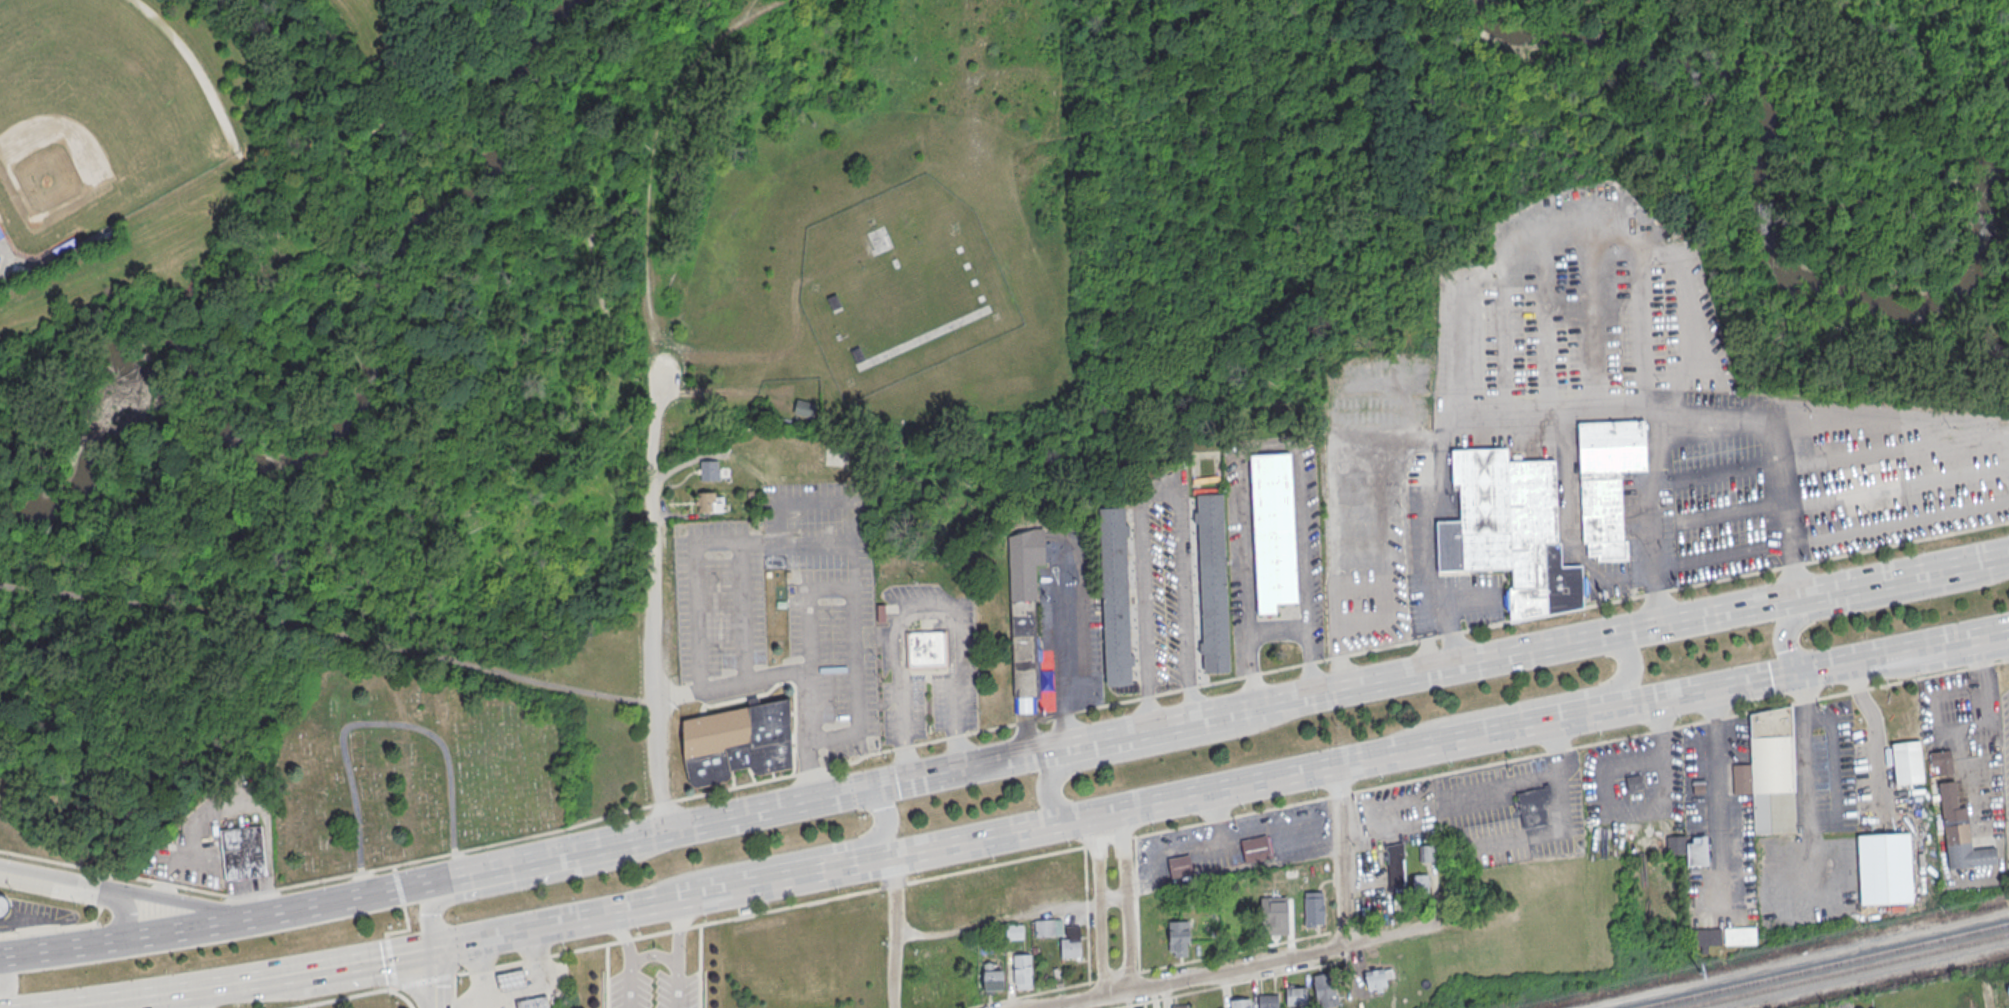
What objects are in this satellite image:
road: (751, 6)
road: (763, 6)
road: (580, 75)
park: (95, 115)
road: (1117, 124)
park: (1521, 180)
river: (1762, 204)
road: (1568, 220)
road: (1122, 236)
road: (1251, 252)
building: (835, 301)
building: (859, 355)
parking lot: (663, 376)
road: (699, 391)
parking lot: (1698, 396)
road: (648, 402)
park: (460, 409)
building: (805, 409)
road: (498, 413)
road: (1439, 442)
river: (322, 445)
road: (1270, 446)
road: (1776, 456)
building: (708, 471)
building: (1606, 482)
road: (1899, 485)
road: (1158, 493)
building: (707, 503)
road: (1652, 519)
road: (1901, 523)
building: (1273, 529)
building: (1508, 529)
road: (760, 542)
road: (1708, 558)
parking lot: (1163, 582)
building: (1212, 583)
road: (823, 587)
road: (1336, 594)
building: (1114, 600)
road: (1868, 604)
road: (921, 607)
parking lot: (785, 611)
building: (1024, 614)
road: (1277, 630)
road: (327, 631)
road: (1959, 642)
building: (927, 651)
road: (1862, 660)
road: (1308, 662)
road: (1250, 670)
traffic signals: (1815, 670)
road: (753, 679)
road: (1065, 680)
road: (1196, 687)
road: (1335, 691)
road: (674, 695)
road: (1548, 700)
road: (375, 724)
road: (1874, 726)
building: (738, 742)
road: (1571, 748)
road: (1138, 751)
park: (400, 757)
parking lot: (1970, 760)
parking lot: (2005, 761)
building: (1907, 762)
building: (1942, 762)
road: (1832, 770)
building: (1772, 771)
building: (1634, 781)
traffic signals: (851, 792)
road: (1807, 793)
road: (1717, 800)
building: (1532, 807)
road: (1124, 808)
road: (1636, 808)
parking lot: (1515, 811)
parking lot: (1718, 824)
building: (1959, 833)
parking lot: (1386, 843)
building: (1688, 847)
building: (1254, 850)
building: (243, 851)
building: (1427, 854)
road: (792, 855)
road: (1339, 855)
road: (55, 862)
building: (1395, 865)
building: (1180, 867)
building: (1884, 867)
road: (450, 876)
road: (524, 880)
road: (179, 886)
road: (398, 889)
building: (1420, 889)
road: (119, 896)
road: (1128, 899)
building: (3, 904)
road: (1098, 906)
building: (1313, 908)
road: (121, 915)
road: (1086, 915)
building: (1274, 916)
road: (1010, 918)
road: (715, 920)
building: (1048, 928)
road: (406, 930)
road: (892, 931)
building: (1013, 932)
building: (1739, 936)
building: (1705, 937)
road: (119, 938)
building: (1178, 938)
building: (1070, 942)
traffic signals: (434, 949)
road: (367, 959)
road: (390, 962)
road: (1246, 965)
railway: (1822, 965)
road: (699, 966)
road: (1148, 970)
railway: (1848, 970)
building: (1021, 971)
power tower: (1700, 974)
road: (606, 975)
road: (4, 977)
road: (434, 978)
building: (991, 979)
building: (1375, 979)
road: (222, 981)
building: (511, 981)
road: (1227, 985)
building: (1323, 989)
road: (453, 990)
road: (401, 996)
building: (2008, 996)
road: (196, 997)
building: (1295, 997)
road: (84, 1001)
building: (1267, 1001)
building: (533, 1002)
building: (1239, 1003)
building: (1180, 1006)

